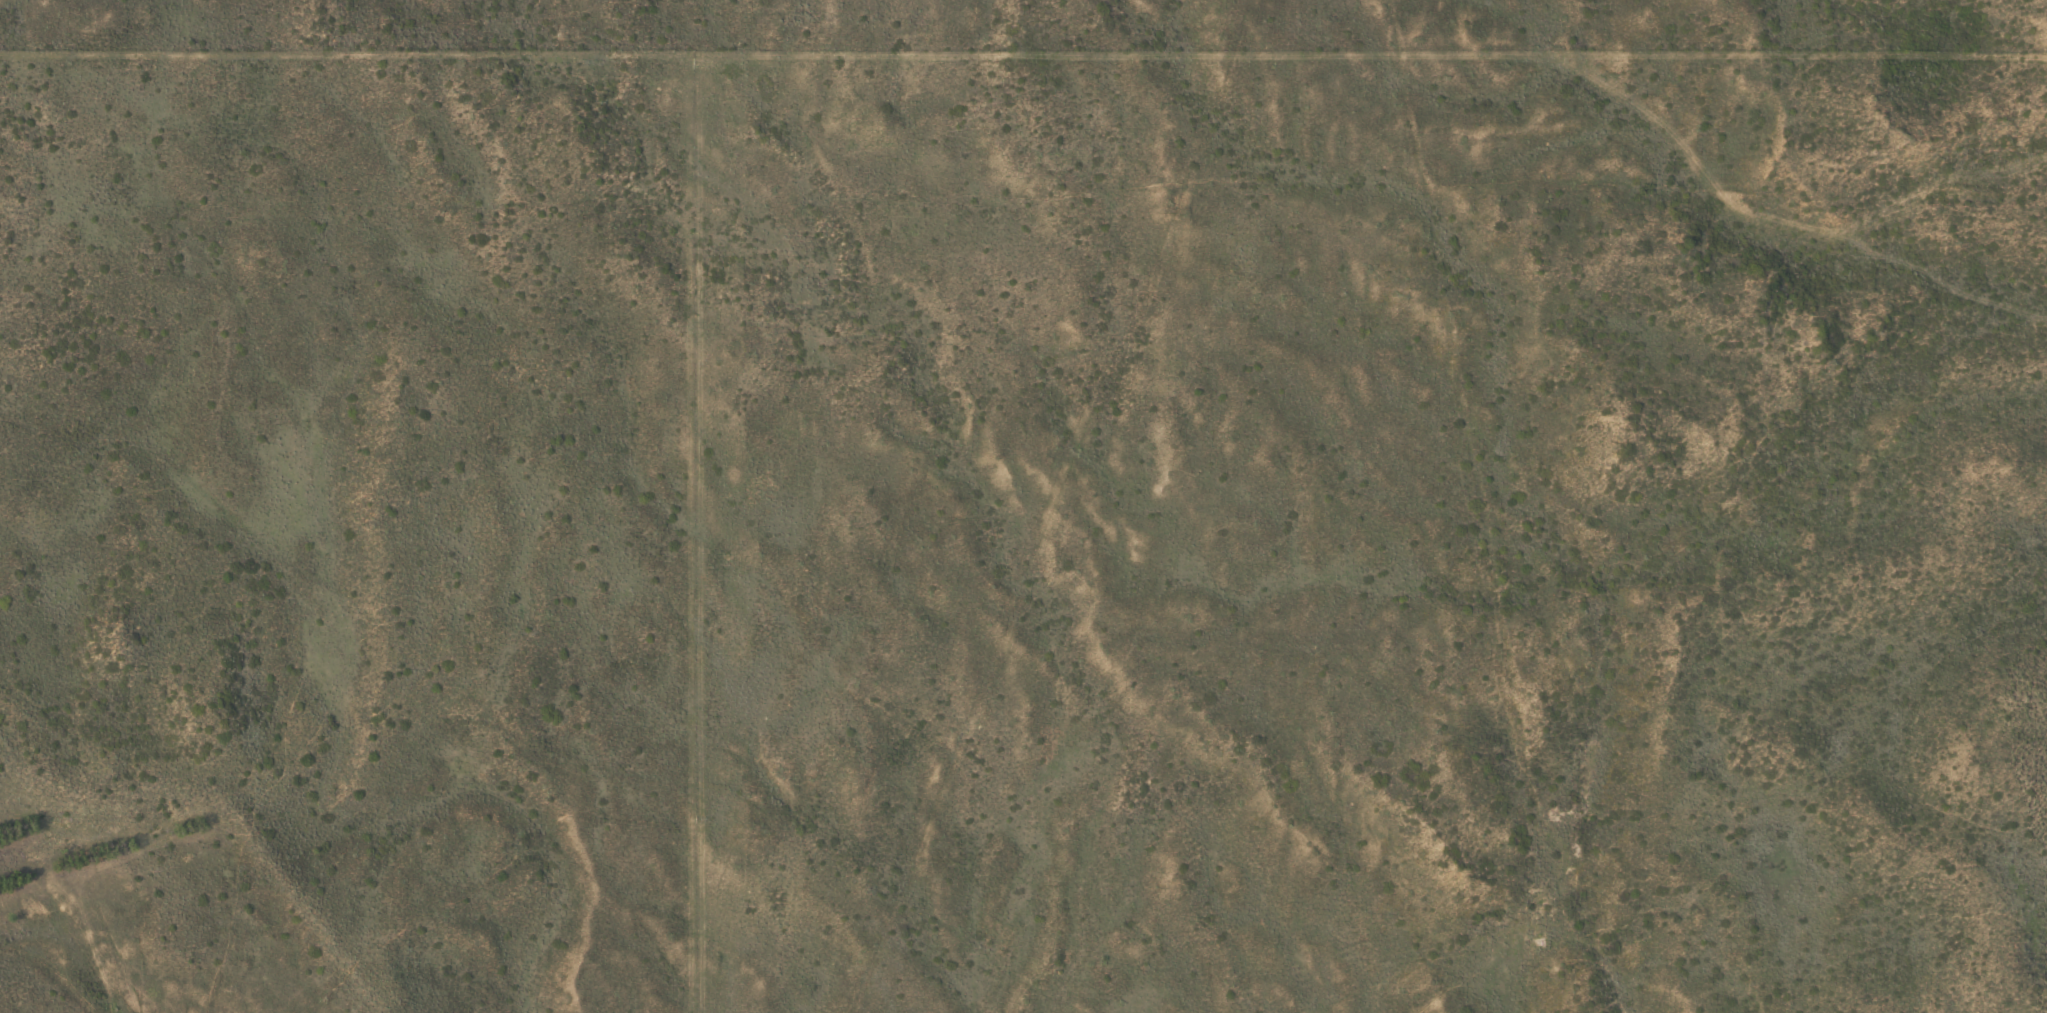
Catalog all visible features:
road: (1550, 959)
road: (1518, 1012)

